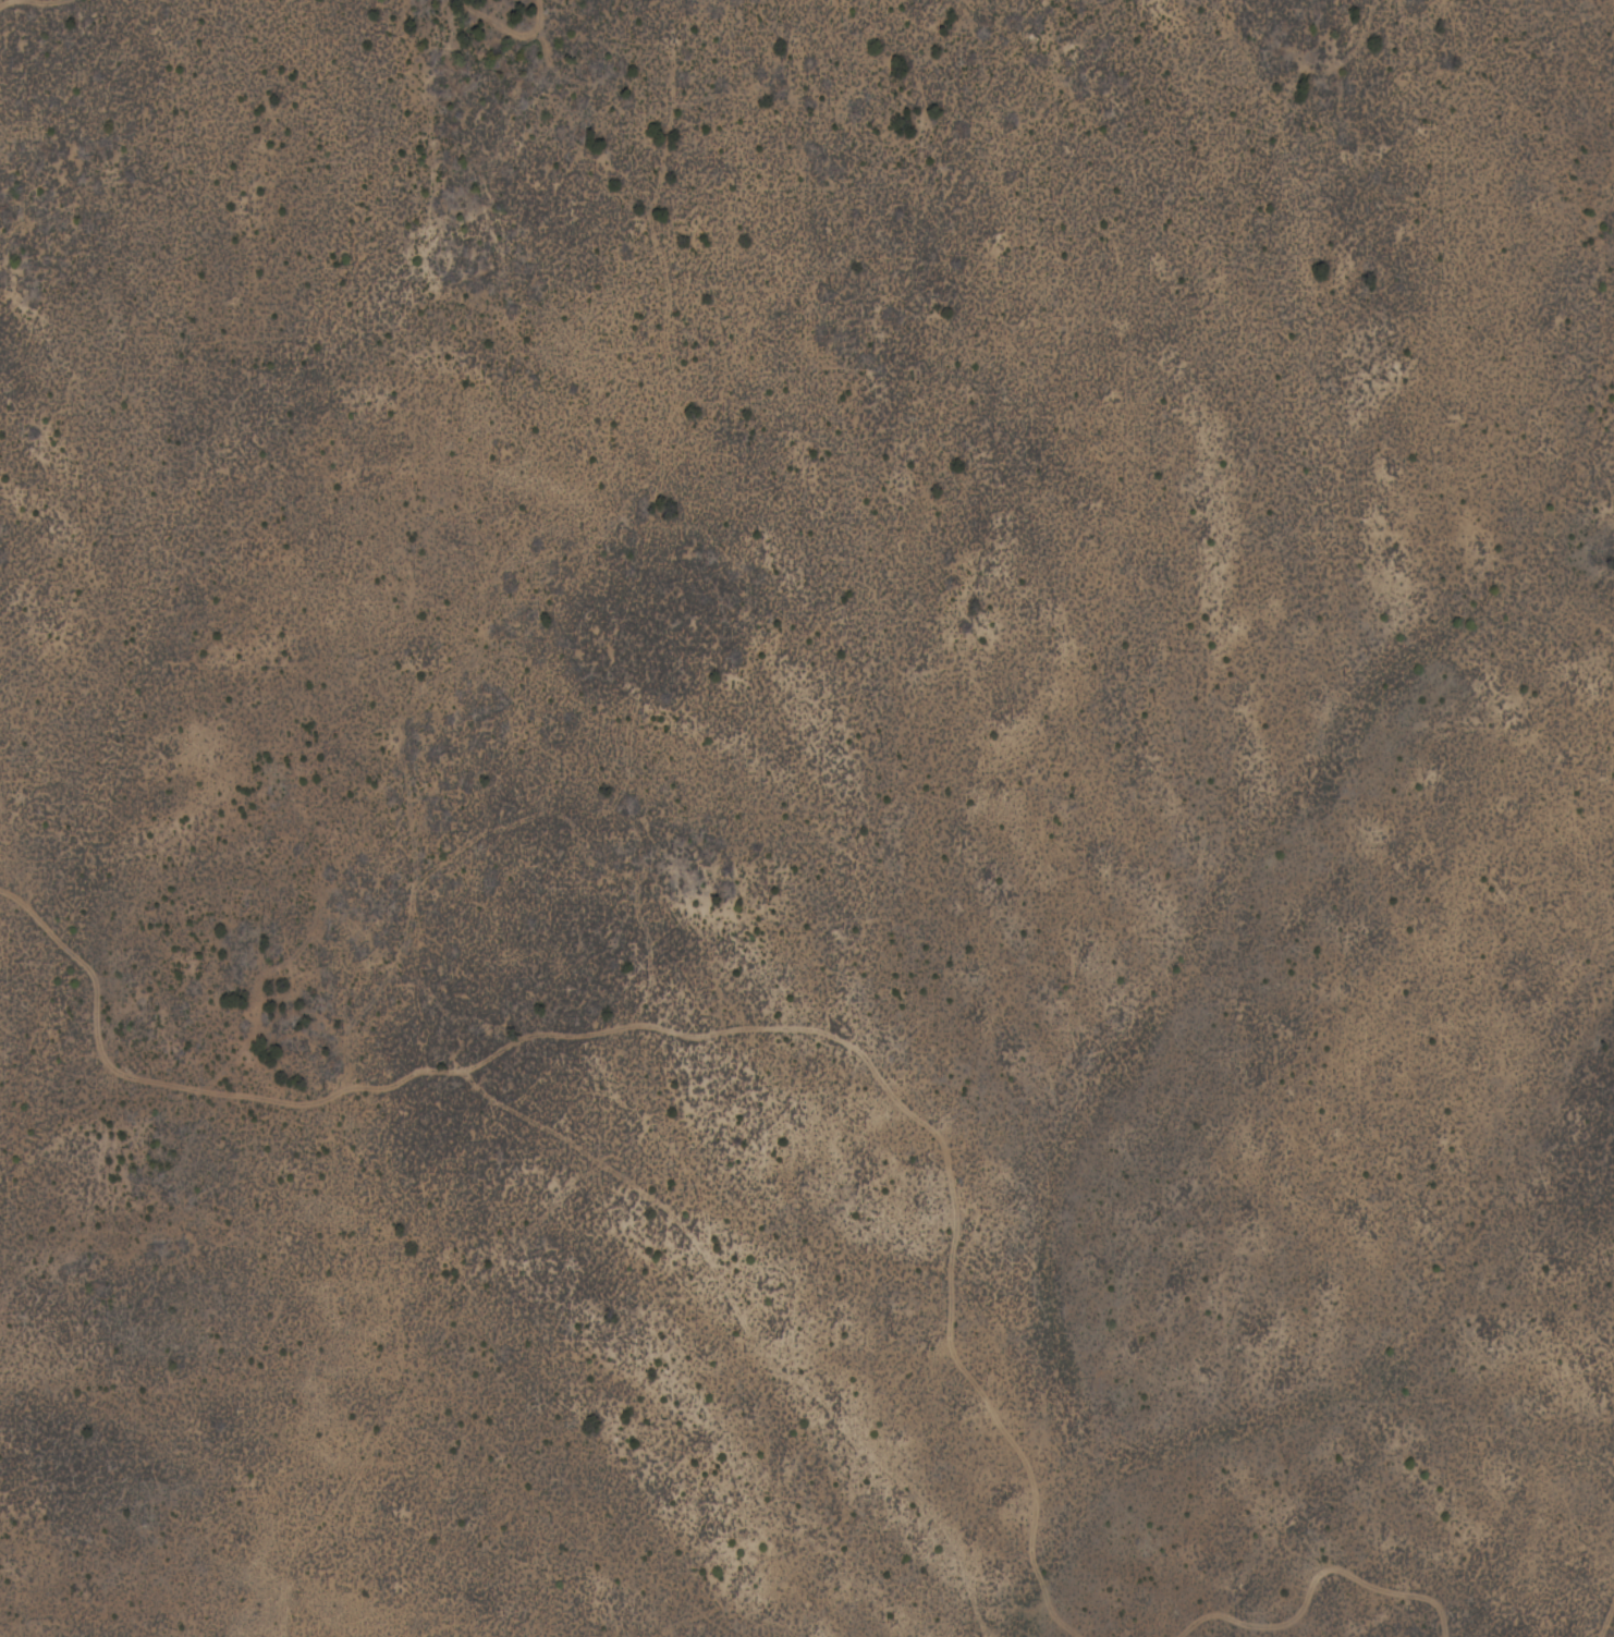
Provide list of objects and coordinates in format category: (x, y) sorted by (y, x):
road: (15, 25)

